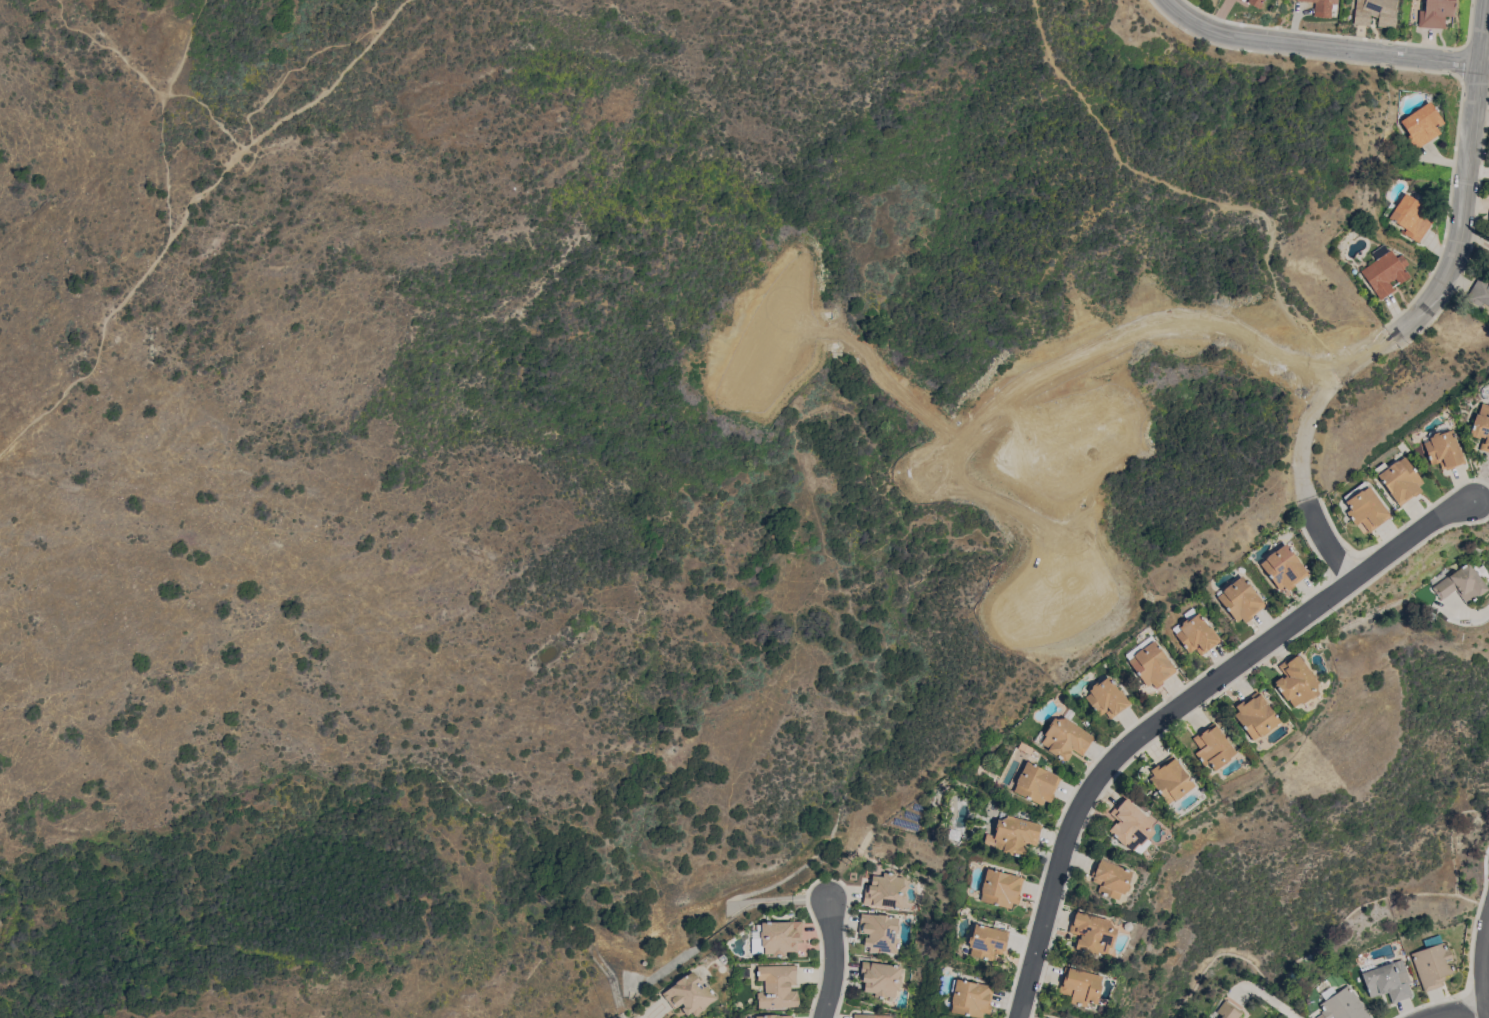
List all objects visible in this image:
building: (1240, 0)
building: (1254, 2)
building: (1317, 2)
building: (1374, 12)
building: (1435, 13)
road: (377, 30)
road: (1316, 47)
road: (306, 65)
road: (145, 79)
road: (162, 114)
building: (1420, 124)
road: (1465, 179)
road: (1201, 199)
road: (188, 212)
building: (1410, 217)
building: (1384, 273)
building: (1479, 292)
road: (1320, 404)
building: (1481, 427)
building: (1443, 450)
building: (1398, 480)
building: (1364, 507)
road: (1326, 542)
building: (1282, 567)
building: (1461, 584)
building: (1240, 600)
road: (1472, 616)
building: (1196, 635)
building: (1137, 647)
building: (1151, 664)
building: (1295, 680)
building: (1106, 698)
road: (1173, 705)
building: (1254, 715)
building: (1064, 738)
building: (1212, 746)
building: (1170, 780)
building: (1035, 783)
building: (906, 823)
building: (1129, 824)
building: (1014, 834)
building: (1109, 878)
building: (999, 888)
building: (884, 891)
building: (879, 932)
building: (1090, 933)
building: (778, 936)
building: (986, 941)
building: (754, 945)
road: (835, 959)
building: (1431, 962)
building: (880, 978)
building: (1387, 981)
road: (1486, 982)
building: (776, 986)
building: (1078, 986)
building: (688, 994)
road: (1269, 997)
building: (970, 998)
building: (1341, 1004)
building: (1228, 1010)
road: (1463, 1012)
building: (870, 1015)
building: (774, 1016)

